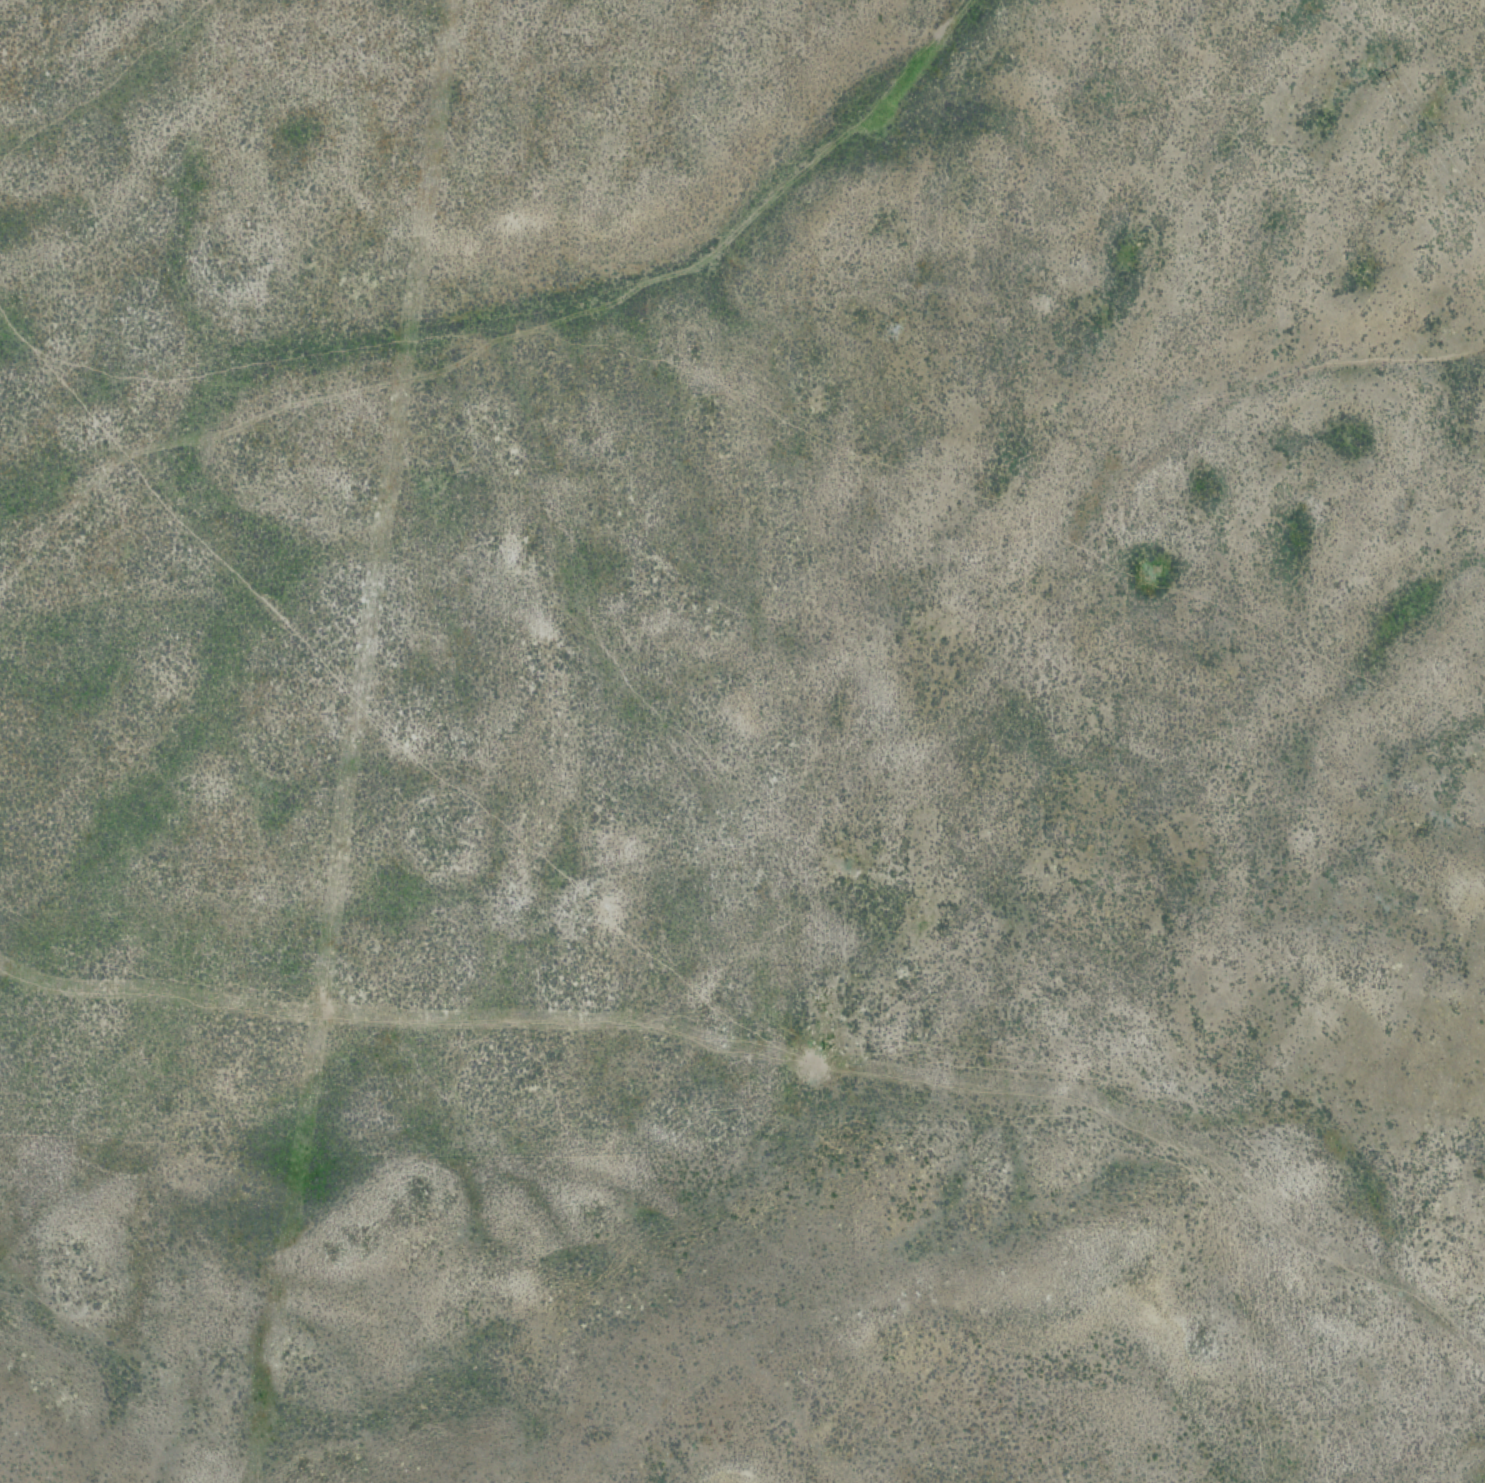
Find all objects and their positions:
power tower: (1384, 85)

